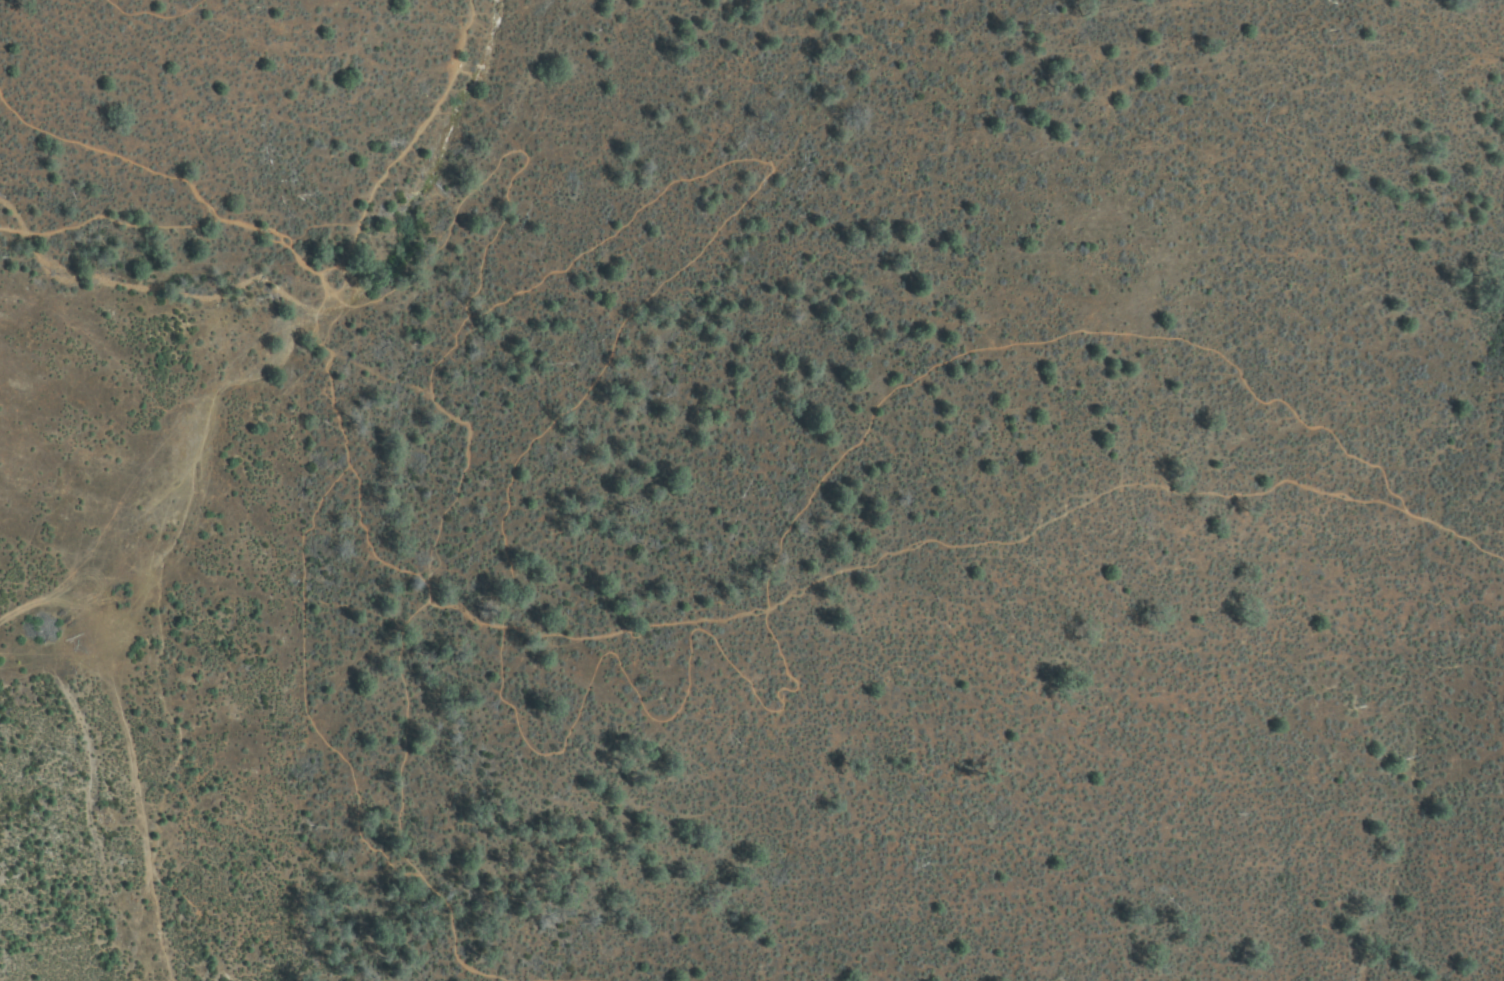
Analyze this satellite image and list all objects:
road: (152, 9)
road: (401, 146)
road: (105, 162)
road: (107, 217)
road: (265, 236)
road: (293, 661)
road: (572, 973)

